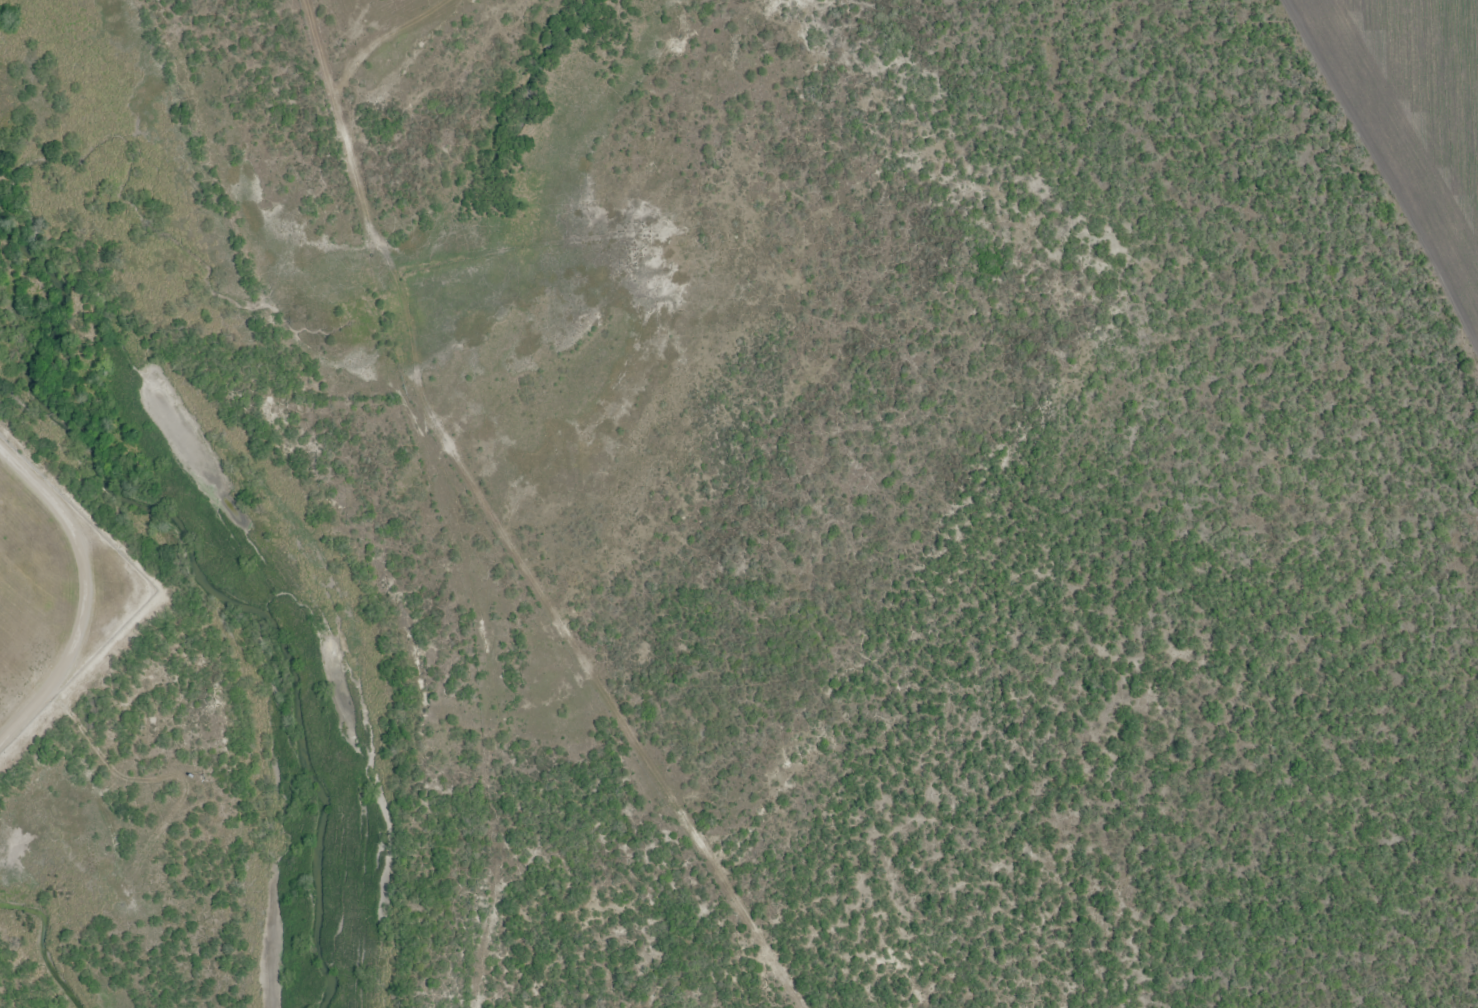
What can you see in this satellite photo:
road: (85, 594)

